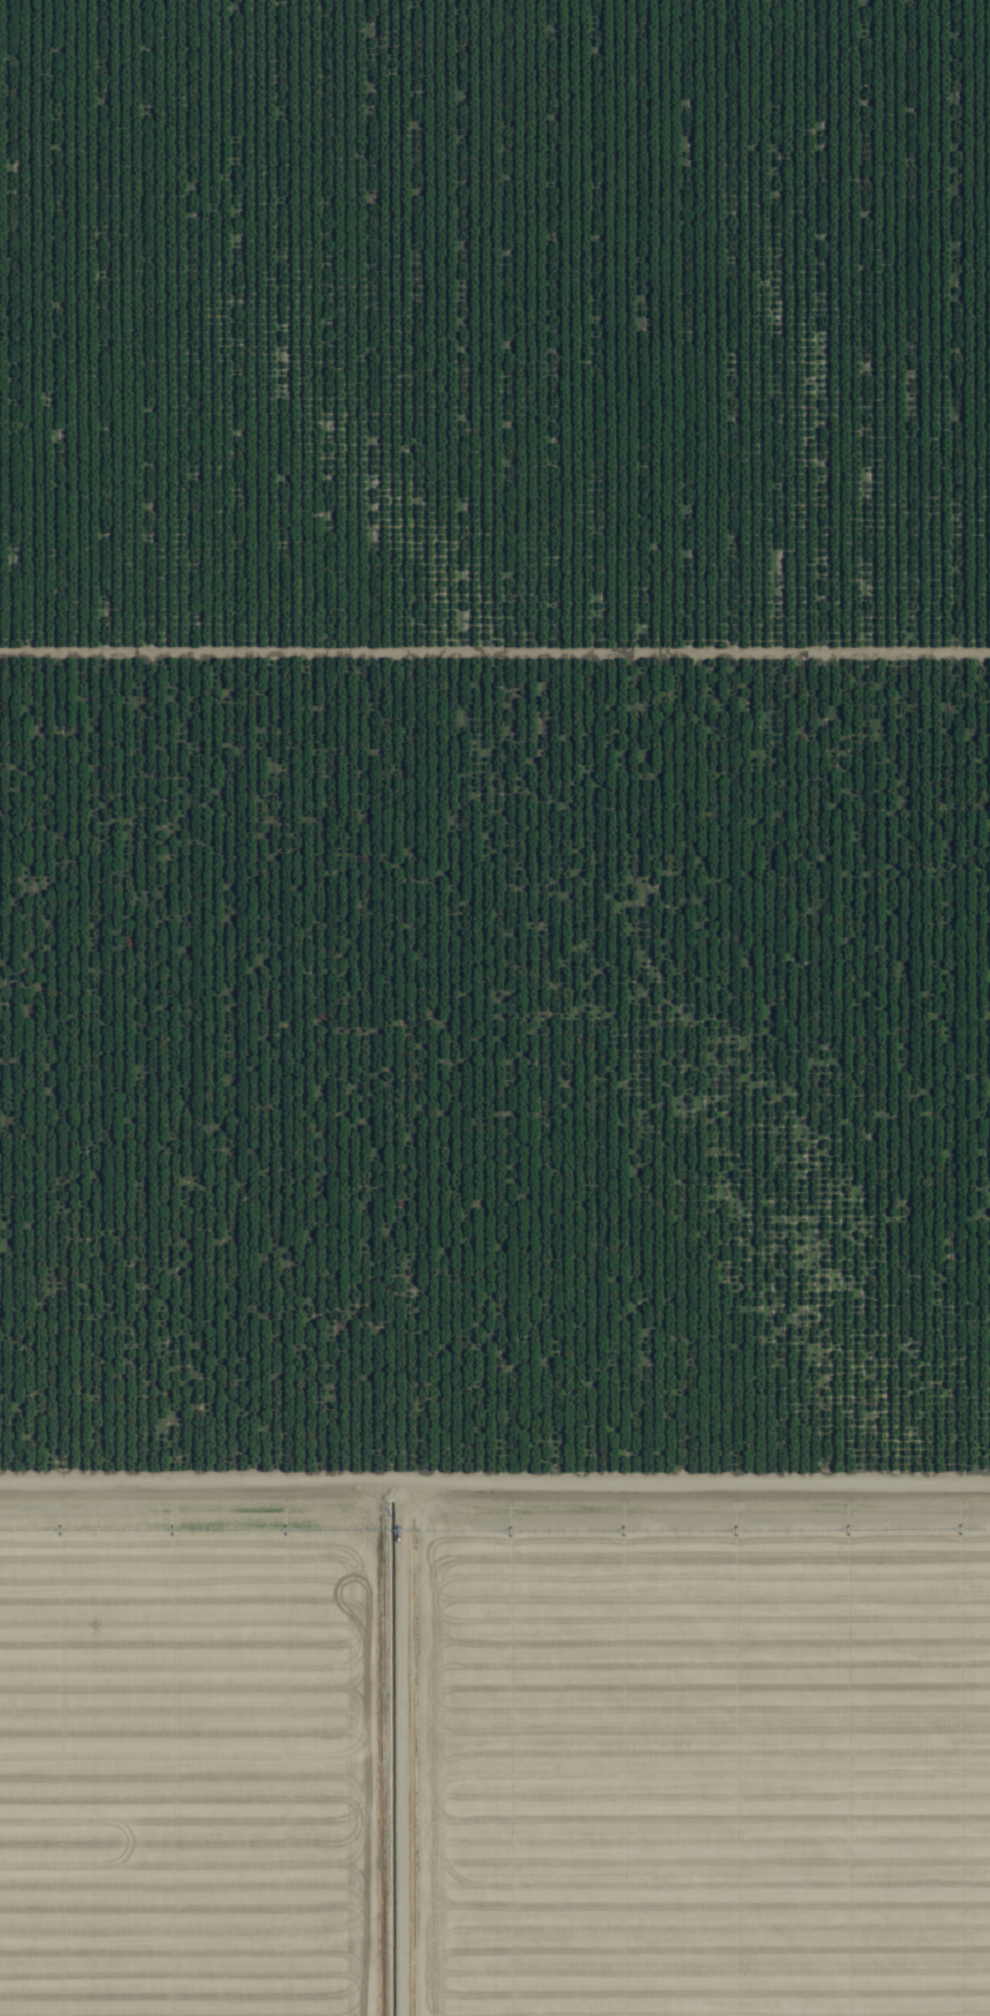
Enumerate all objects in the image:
crop: (495, 1008)
road: (495, 1460)

